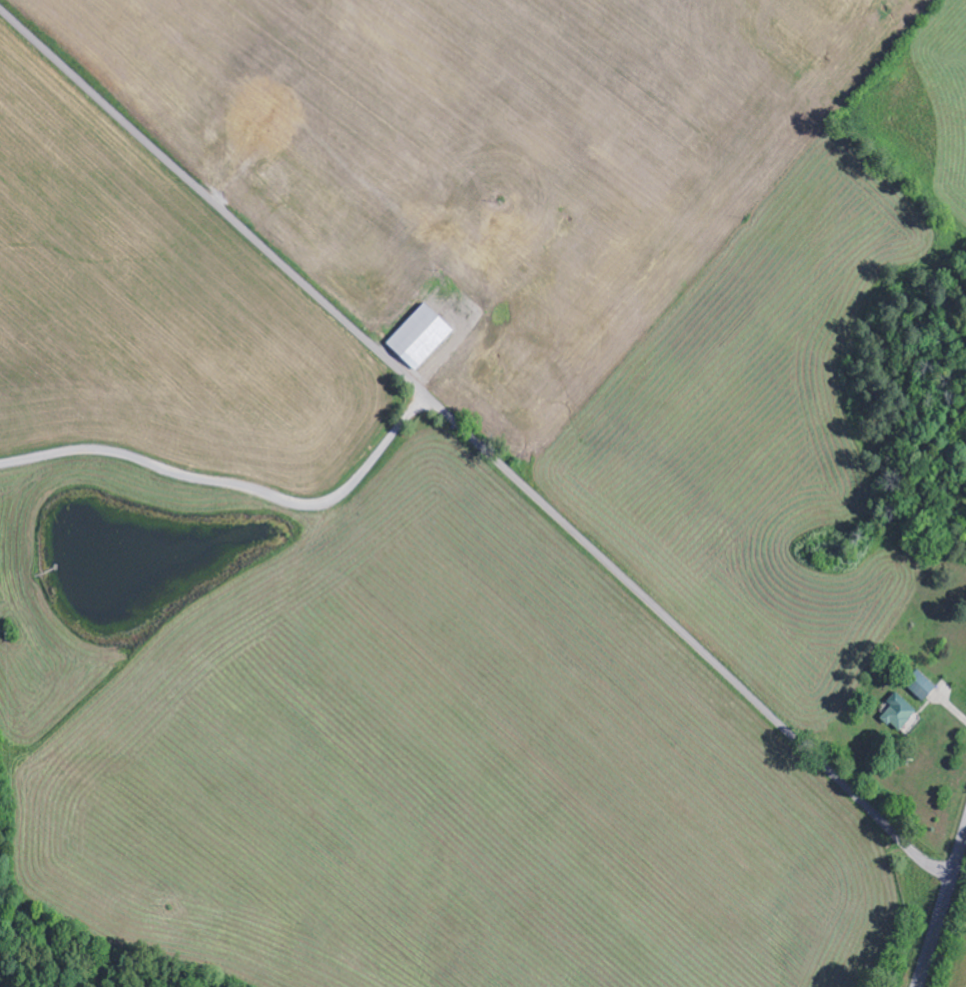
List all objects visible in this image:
building: (421, 335)
road: (474, 446)
road: (232, 483)
building: (921, 684)
building: (901, 713)
road: (941, 907)

